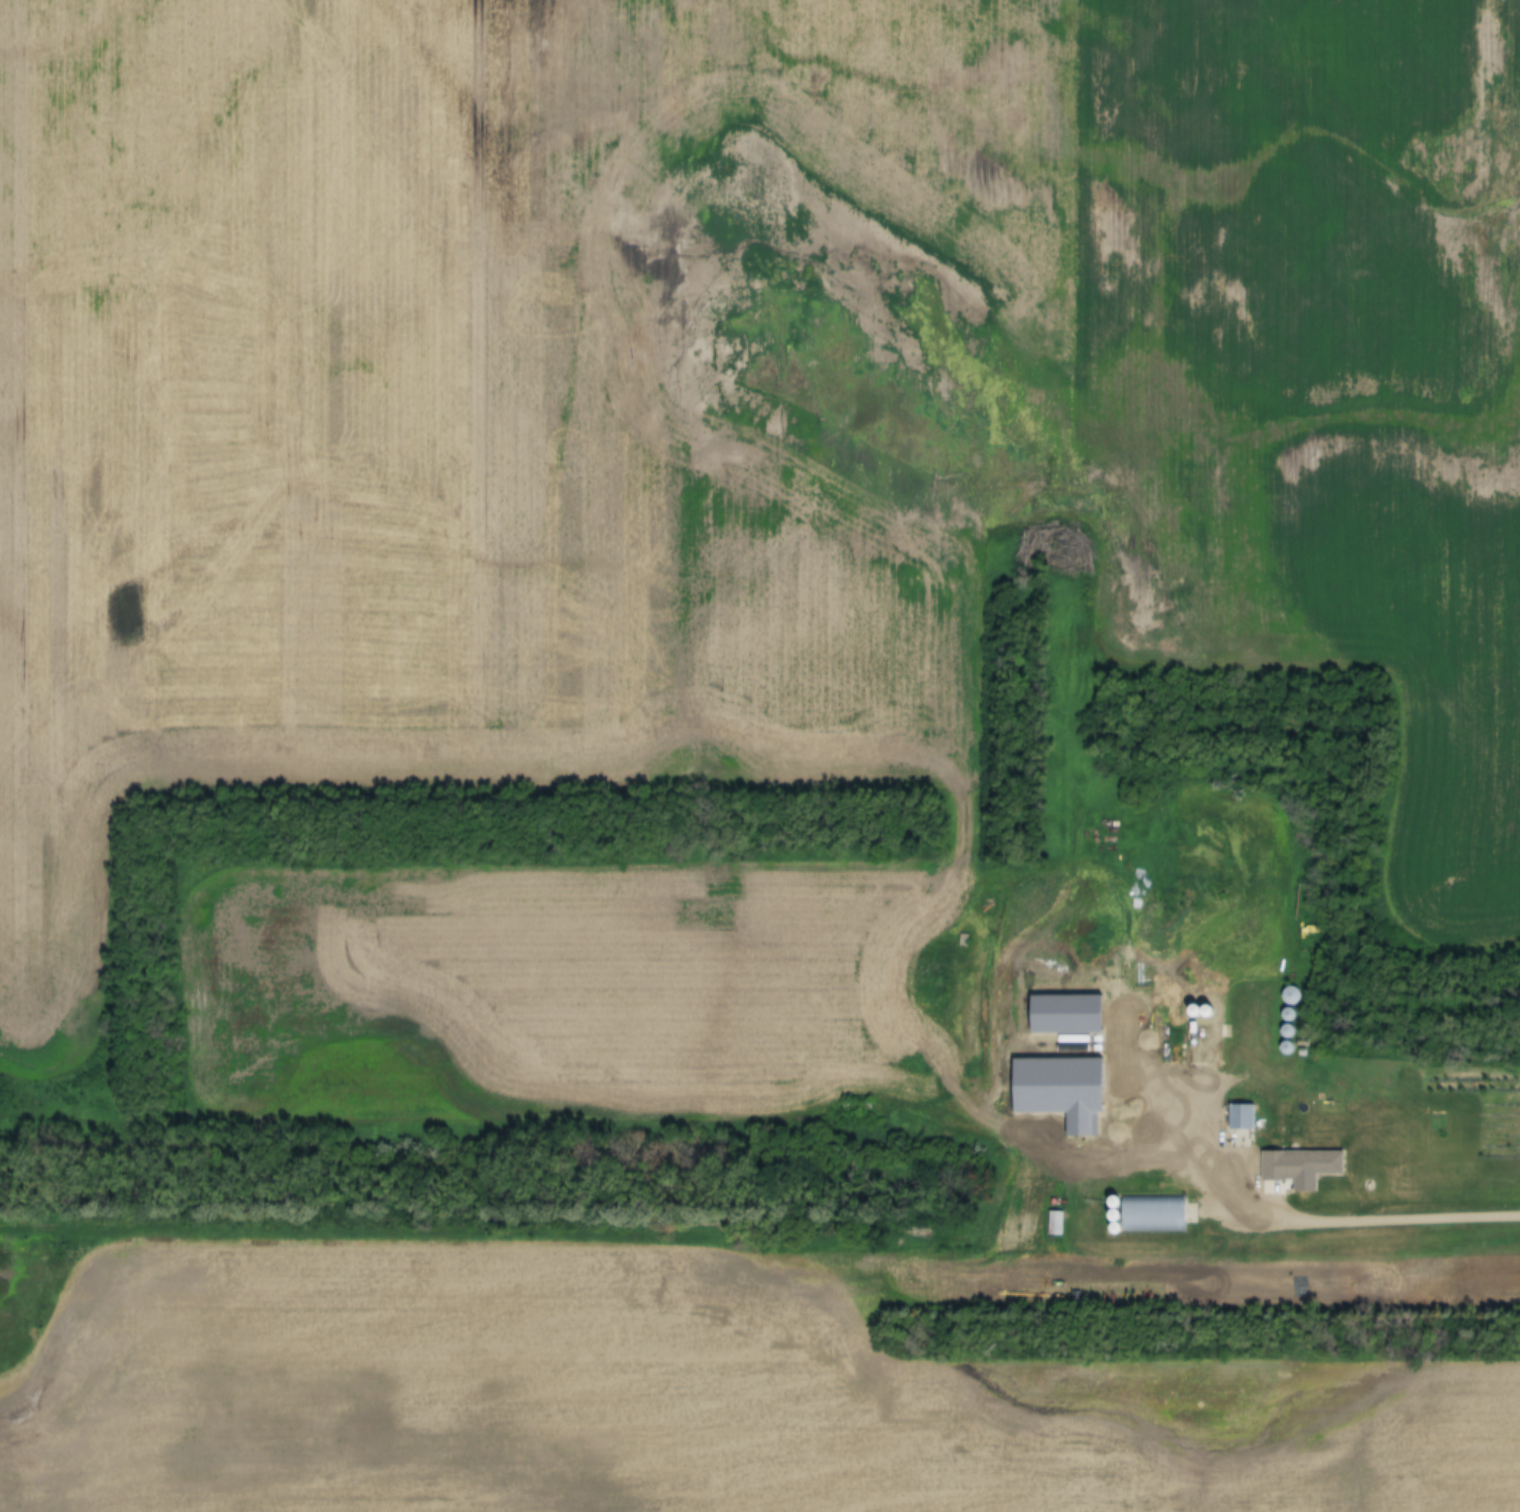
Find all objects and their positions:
building: (1293, 996)
building: (1206, 1031)
building: (1243, 1118)
building: (1302, 1166)
building: (1155, 1216)
road: (1303, 1222)

